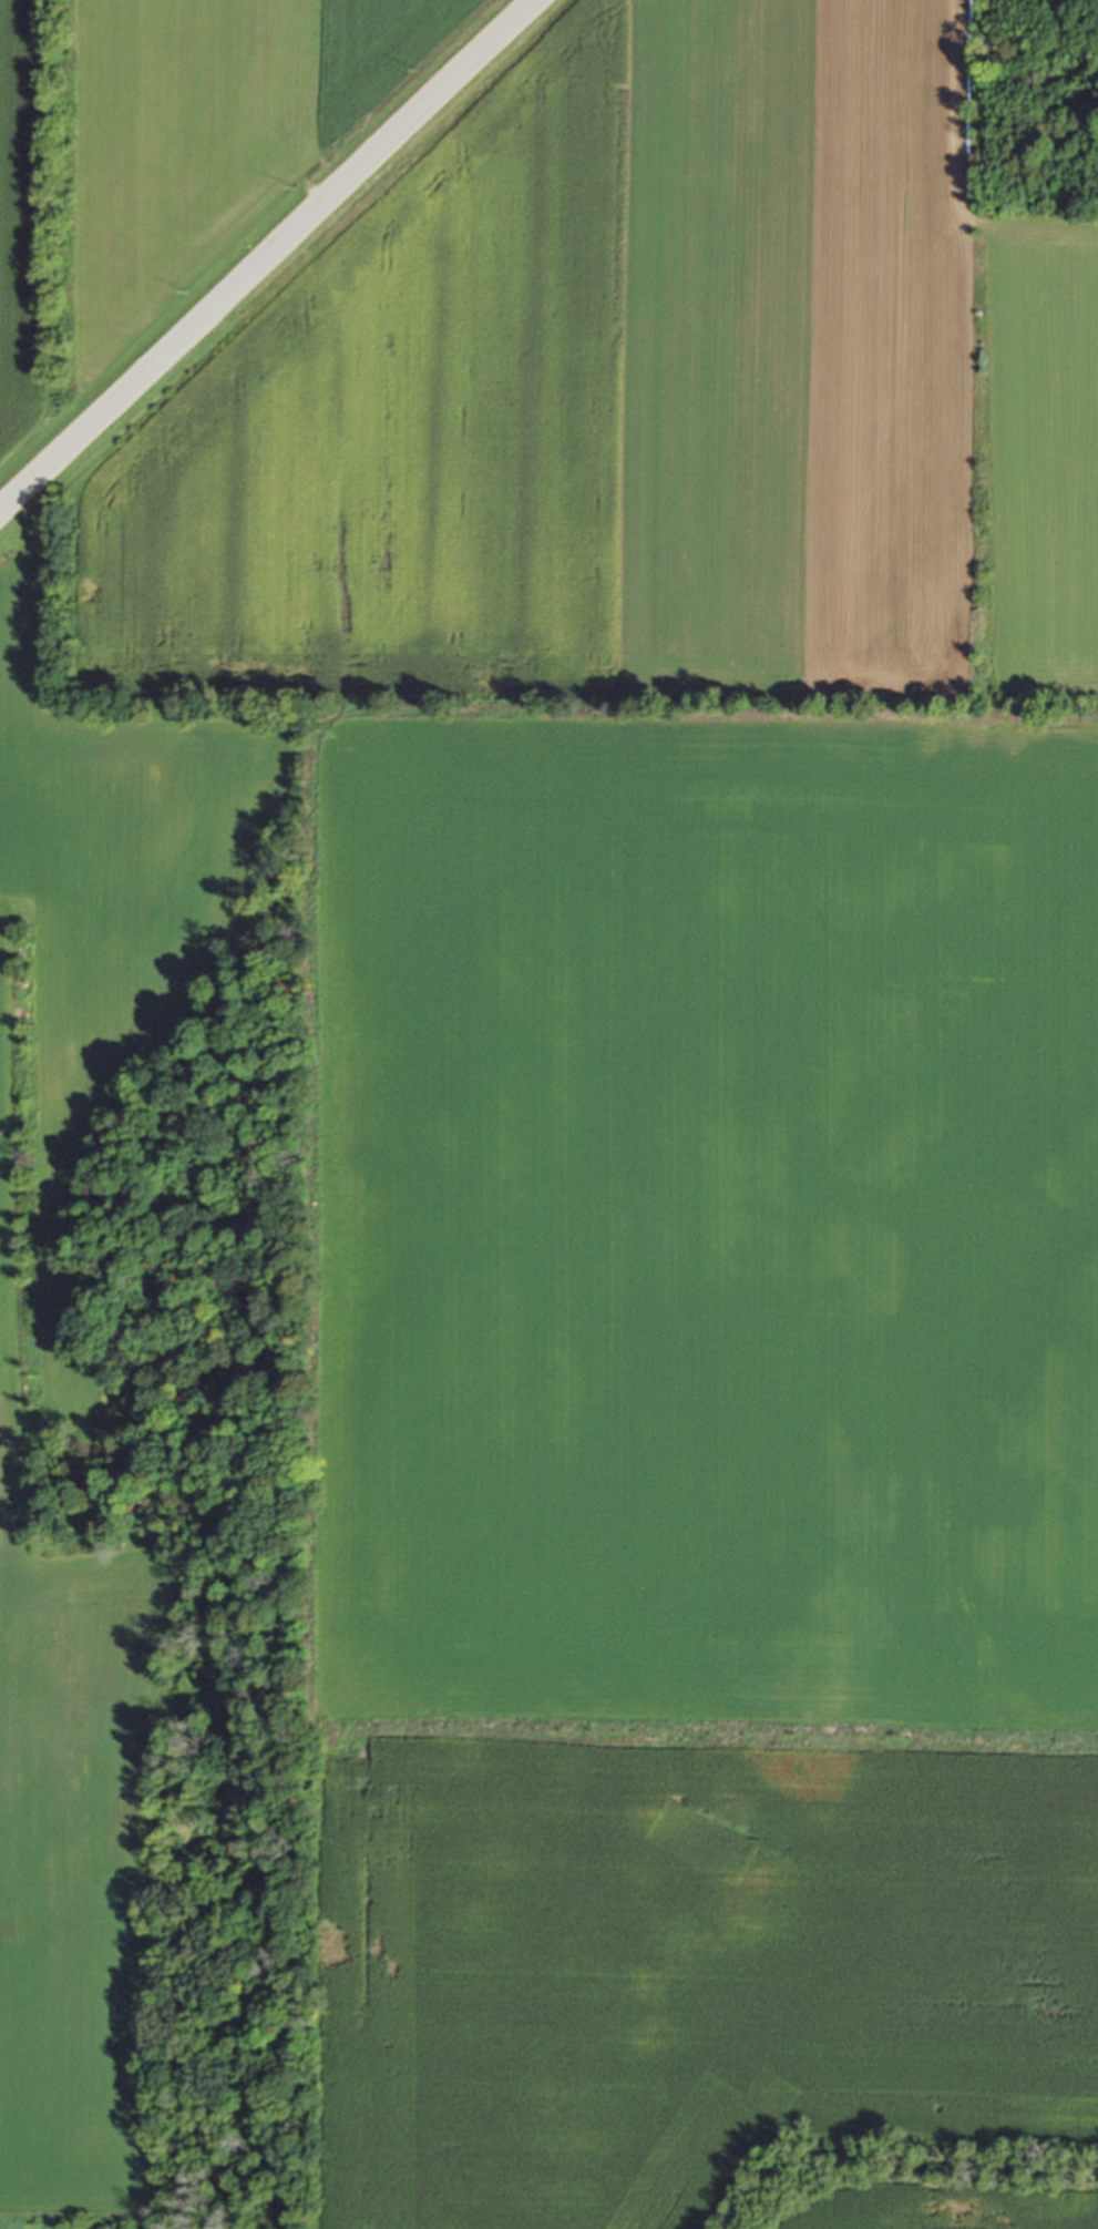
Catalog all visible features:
road: (268, 255)

